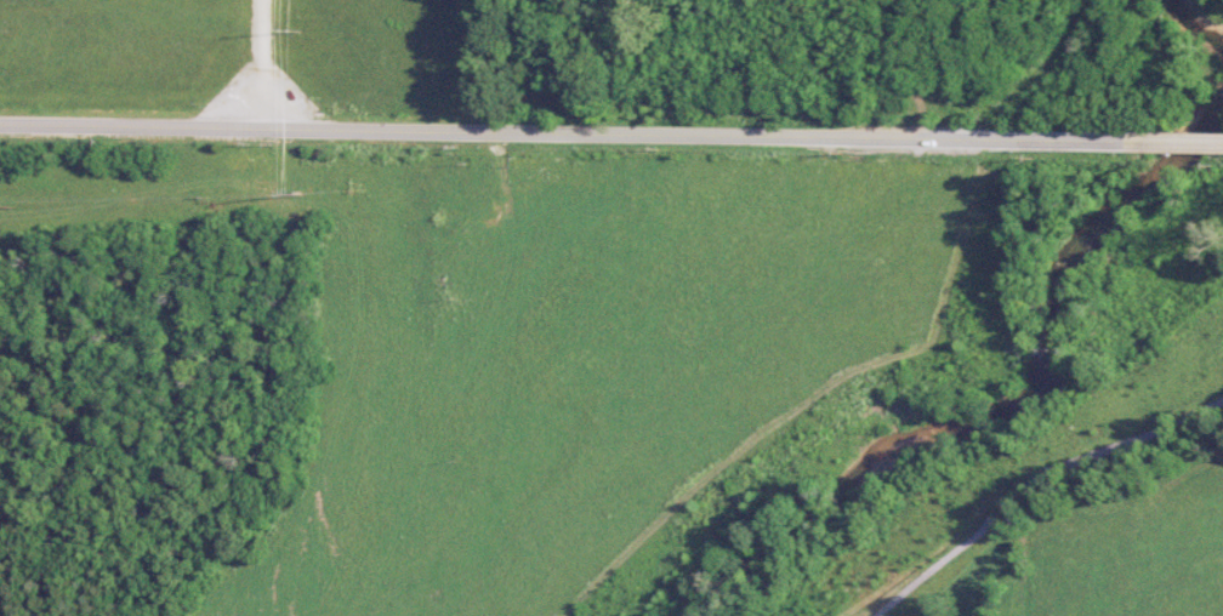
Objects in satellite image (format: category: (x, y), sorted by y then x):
river: (1194, 23)
road: (260, 65)
road: (569, 135)
road: (1181, 143)
river: (1014, 411)
road: (1035, 480)
crop: (1133, 546)

